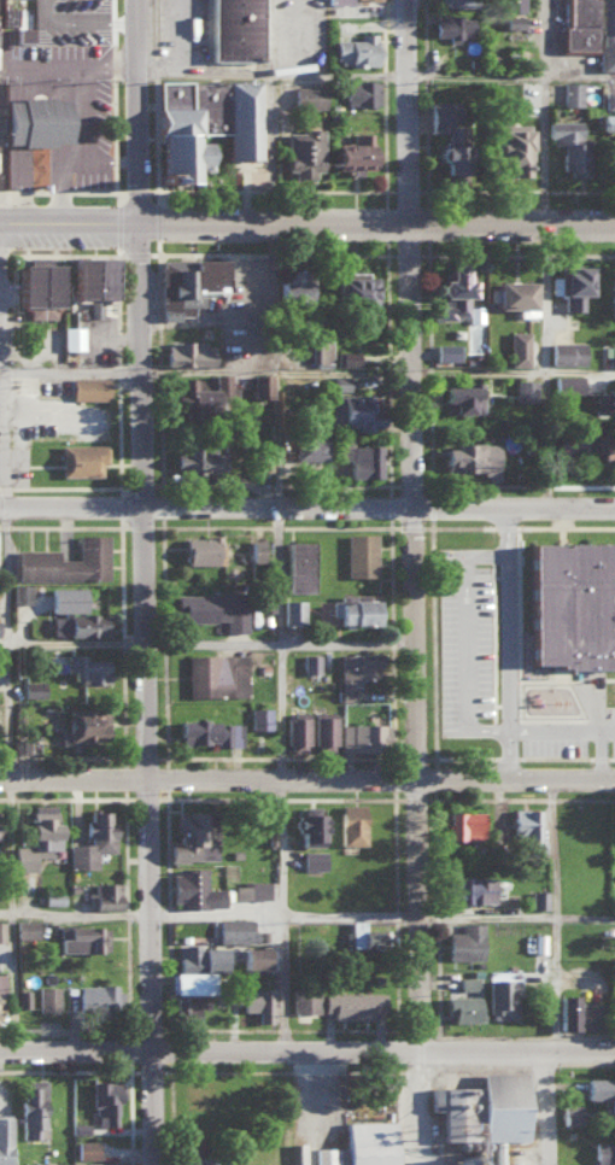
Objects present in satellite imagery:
building: (350, 0)
building: (450, 2)
building: (508, 5)
building: (6, 14)
road: (112, 24)
building: (451, 24)
building: (578, 24)
building: (233, 29)
building: (23, 33)
building: (607, 34)
building: (355, 49)
road: (112, 63)
road: (74, 64)
road: (580, 74)
road: (345, 76)
building: (359, 90)
building: (570, 92)
building: (306, 95)
building: (609, 98)
road: (416, 110)
road: (147, 111)
building: (35, 119)
building: (607, 121)
building: (203, 122)
road: (113, 134)
building: (446, 136)
building: (568, 145)
building: (508, 147)
building: (20, 150)
building: (301, 151)
building: (351, 152)
building: (614, 153)
road: (1, 191)
road: (11, 191)
road: (24, 191)
road: (39, 191)
road: (58, 191)
road: (94, 191)
road: (306, 222)
road: (5, 247)
road: (7, 252)
road: (104, 252)
road: (555, 254)
building: (89, 280)
building: (186, 283)
building: (572, 285)
building: (36, 287)
building: (291, 288)
building: (610, 292)
building: (451, 293)
building: (514, 295)
building: (351, 298)
building: (71, 336)
building: (516, 347)
building: (445, 351)
building: (566, 351)
road: (117, 352)
building: (187, 352)
building: (320, 352)
building: (613, 353)
building: (346, 357)
road: (307, 371)
building: (567, 382)
building: (259, 385)
building: (88, 387)
building: (525, 390)
building: (200, 392)
building: (459, 397)
building: (609, 400)
building: (352, 410)
road: (1, 440)
building: (568, 443)
building: (310, 445)
building: (605, 447)
building: (470, 457)
building: (80, 458)
building: (198, 459)
building: (362, 459)
road: (118, 485)
road: (5, 486)
road: (307, 510)
building: (201, 549)
building: (256, 549)
building: (359, 554)
building: (64, 561)
building: (299, 564)
road: (276, 578)
building: (20, 592)
building: (64, 598)
building: (570, 603)
building: (212, 608)
building: (352, 609)
building: (293, 611)
building: (76, 624)
road: (420, 638)
road: (462, 642)
road: (2, 645)
road: (210, 645)
road: (508, 645)
building: (310, 662)
building: (86, 668)
building: (355, 671)
building: (215, 674)
building: (31, 687)
road: (146, 693)
road: (280, 712)
building: (259, 718)
building: (84, 724)
road: (562, 730)
building: (210, 731)
building: (323, 731)
building: (295, 732)
building: (363, 736)
building: (18, 745)
road: (599, 754)
road: (306, 779)
building: (350, 824)
building: (307, 825)
building: (464, 825)
building: (526, 830)
building: (36, 835)
building: (189, 835)
building: (90, 837)
road: (280, 847)
building: (312, 857)
building: (192, 886)
building: (468, 886)
building: (251, 888)
building: (102, 892)
building: (538, 897)
road: (307, 914)
road: (552, 915)
road: (10, 917)
building: (24, 926)
building: (233, 927)
building: (1, 929)
building: (358, 932)
building: (81, 936)
building: (465, 941)
building: (251, 955)
building: (197, 965)
building: (0, 980)
building: (467, 980)
road: (282, 984)
building: (96, 994)
building: (23, 996)
building: (500, 996)
building: (47, 997)
building: (304, 997)
building: (258, 1002)
building: (353, 1002)
building: (188, 1005)
building: (462, 1006)
building: (575, 1011)
road: (306, 1053)
building: (105, 1099)
building: (31, 1106)
road: (432, 1110)
road: (556, 1110)
building: (478, 1111)
building: (568, 1112)
building: (4, 1137)
building: (368, 1141)
building: (86, 1147)
building: (613, 1151)
building: (195, 1155)
building: (101, 1161)
building: (45, 1163)

